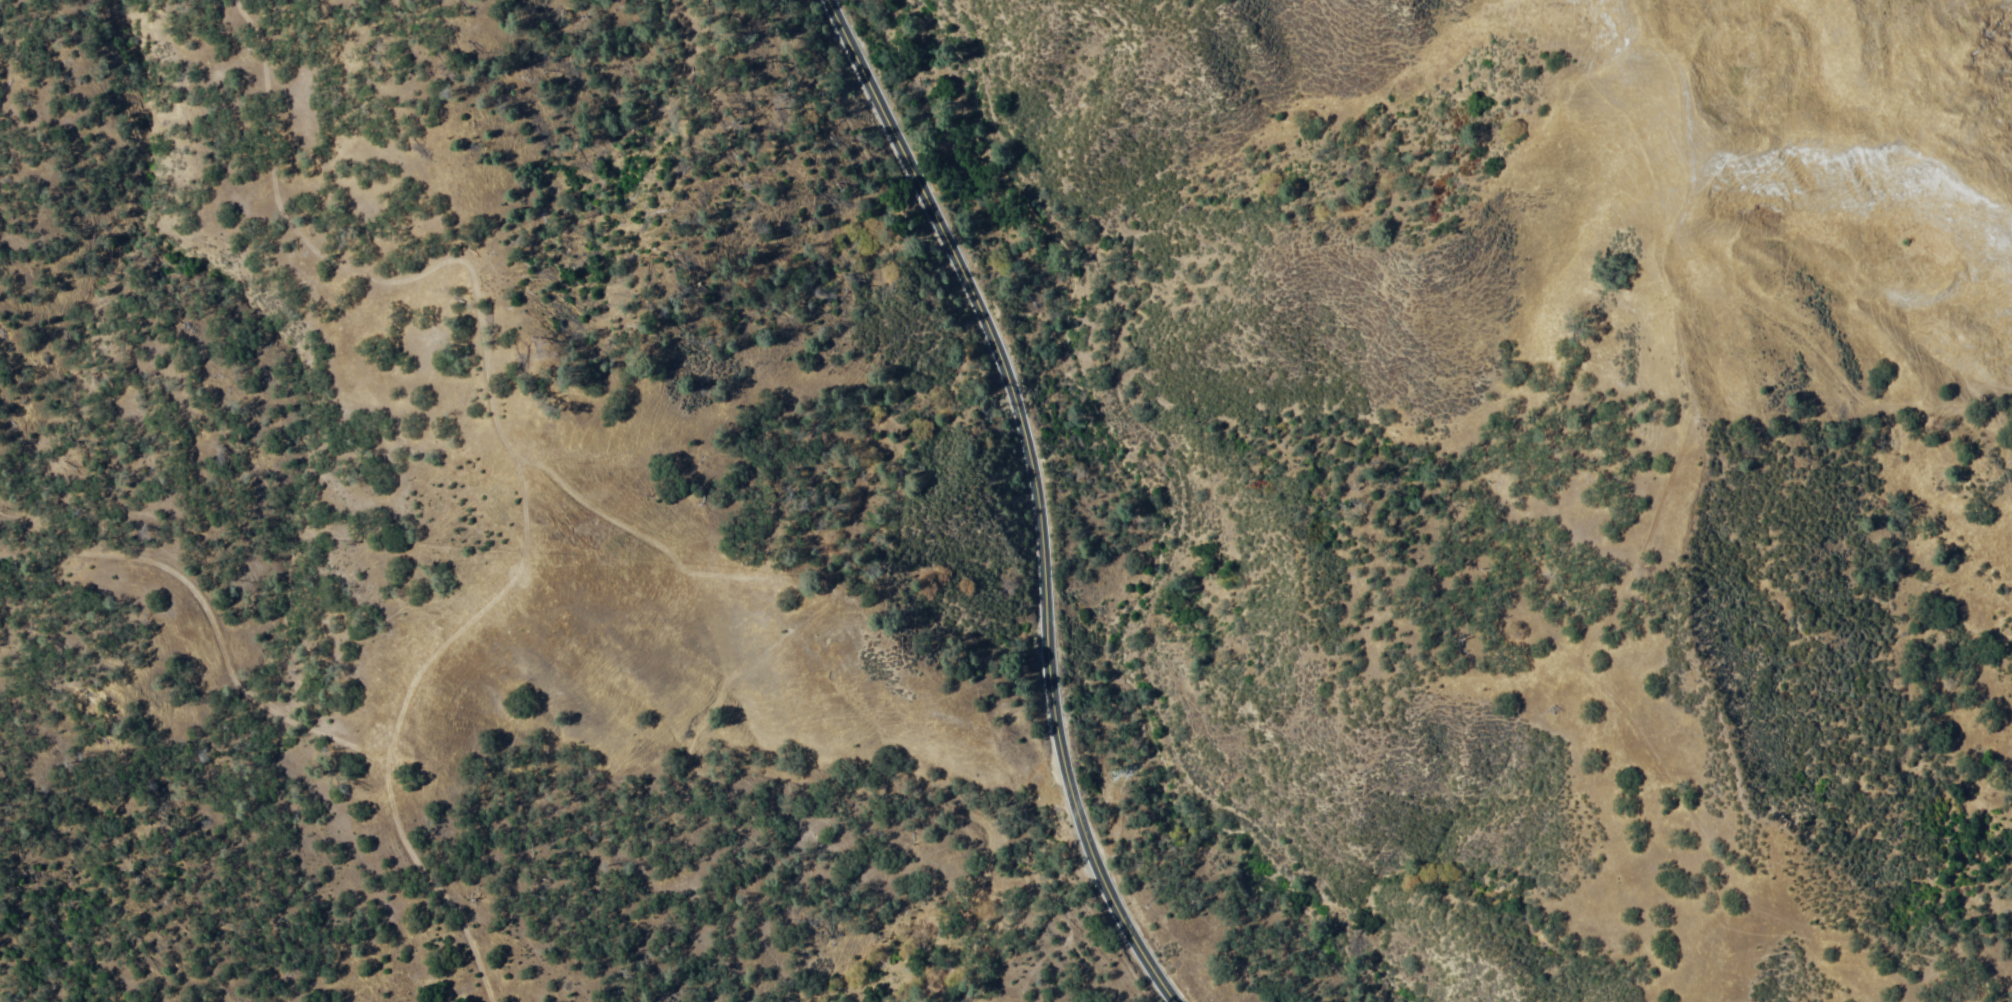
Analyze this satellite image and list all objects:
road: (1028, 491)

